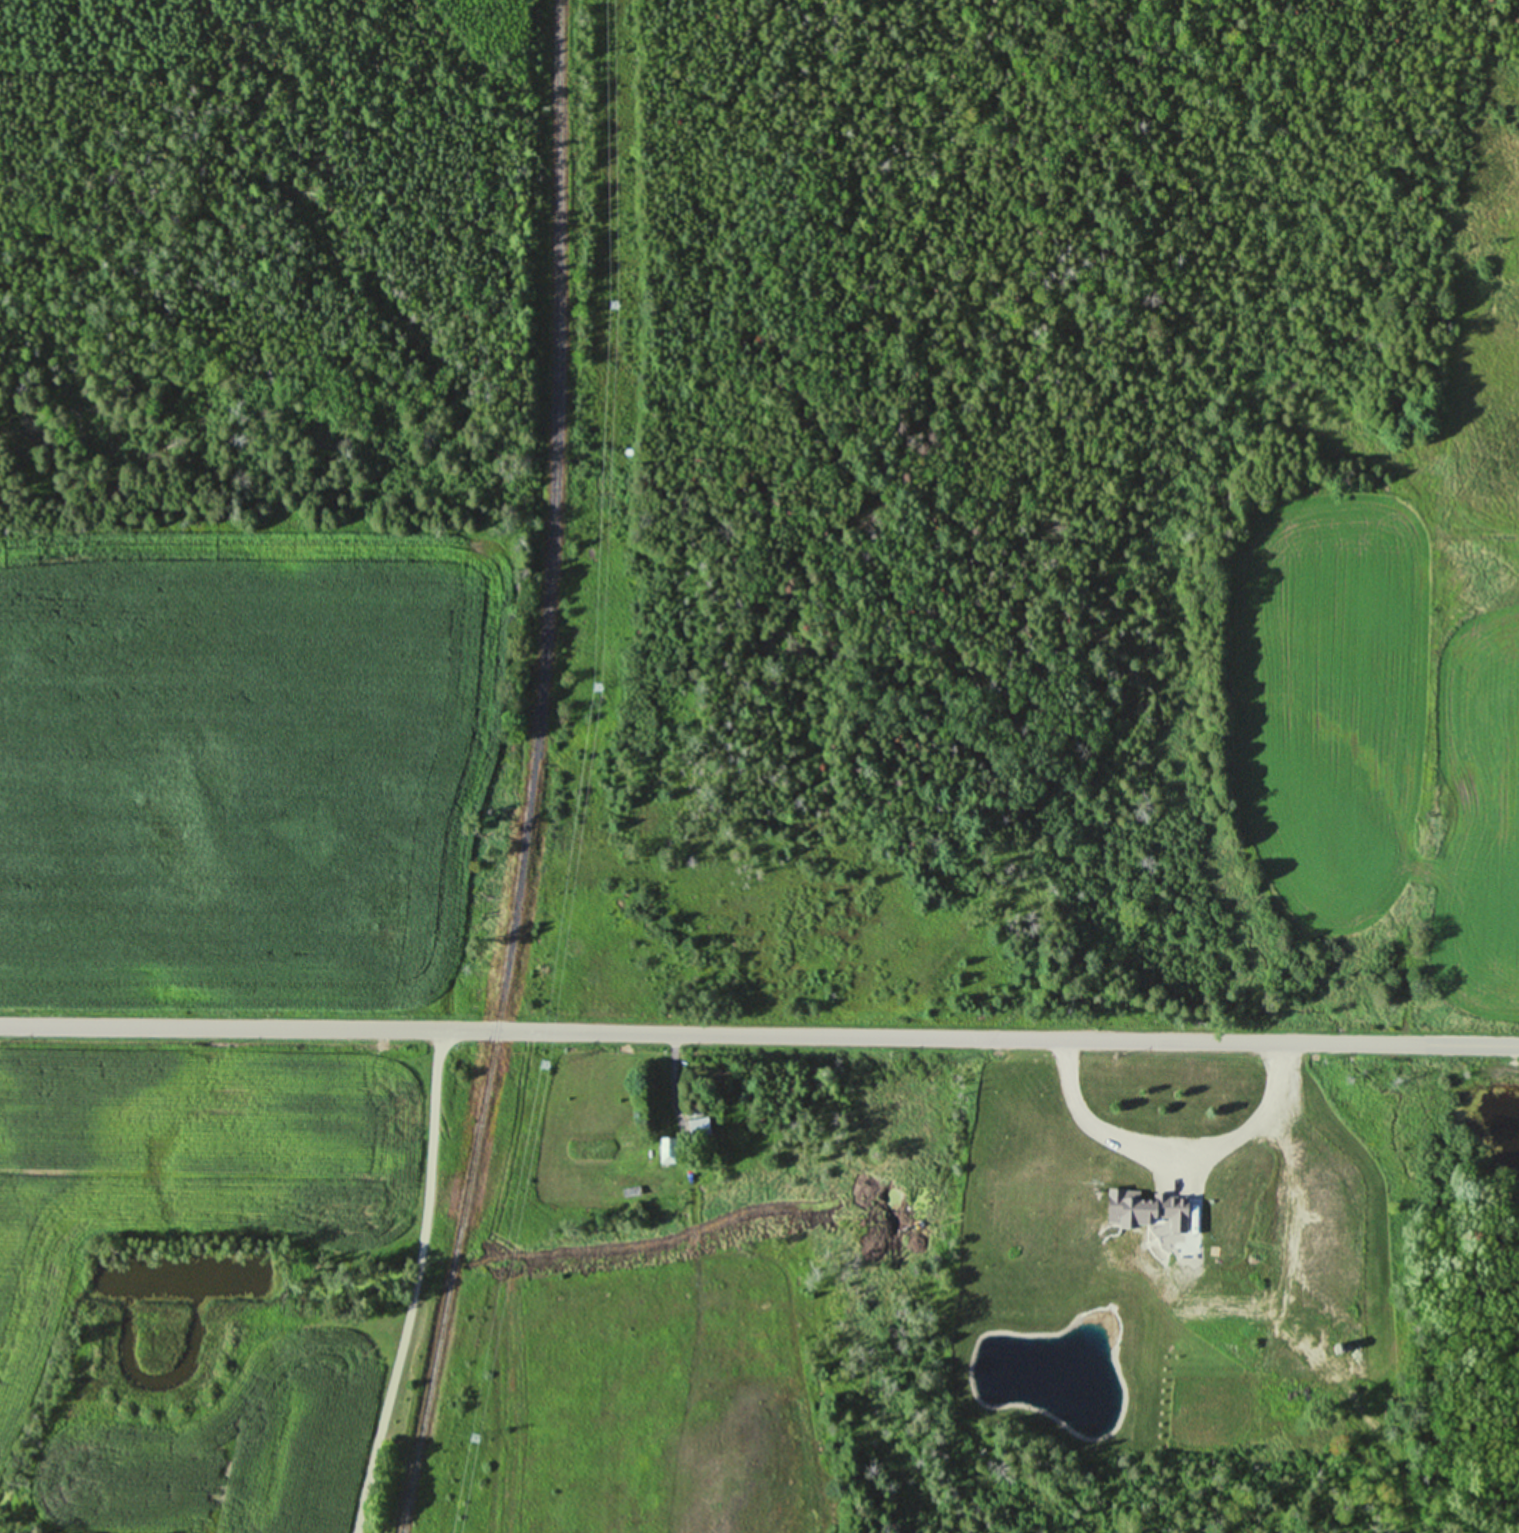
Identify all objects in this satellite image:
power tower: (612, 305)
power tower: (597, 685)
railway: (534, 772)
road: (759, 1033)
power tower: (543, 1065)
building: (694, 1115)
road: (1281, 1143)
building: (666, 1149)
road: (414, 1283)
building: (1275, 1290)
building: (1368, 1317)
building: (1277, 1341)
building: (1343, 1362)
power tower: (473, 1436)

